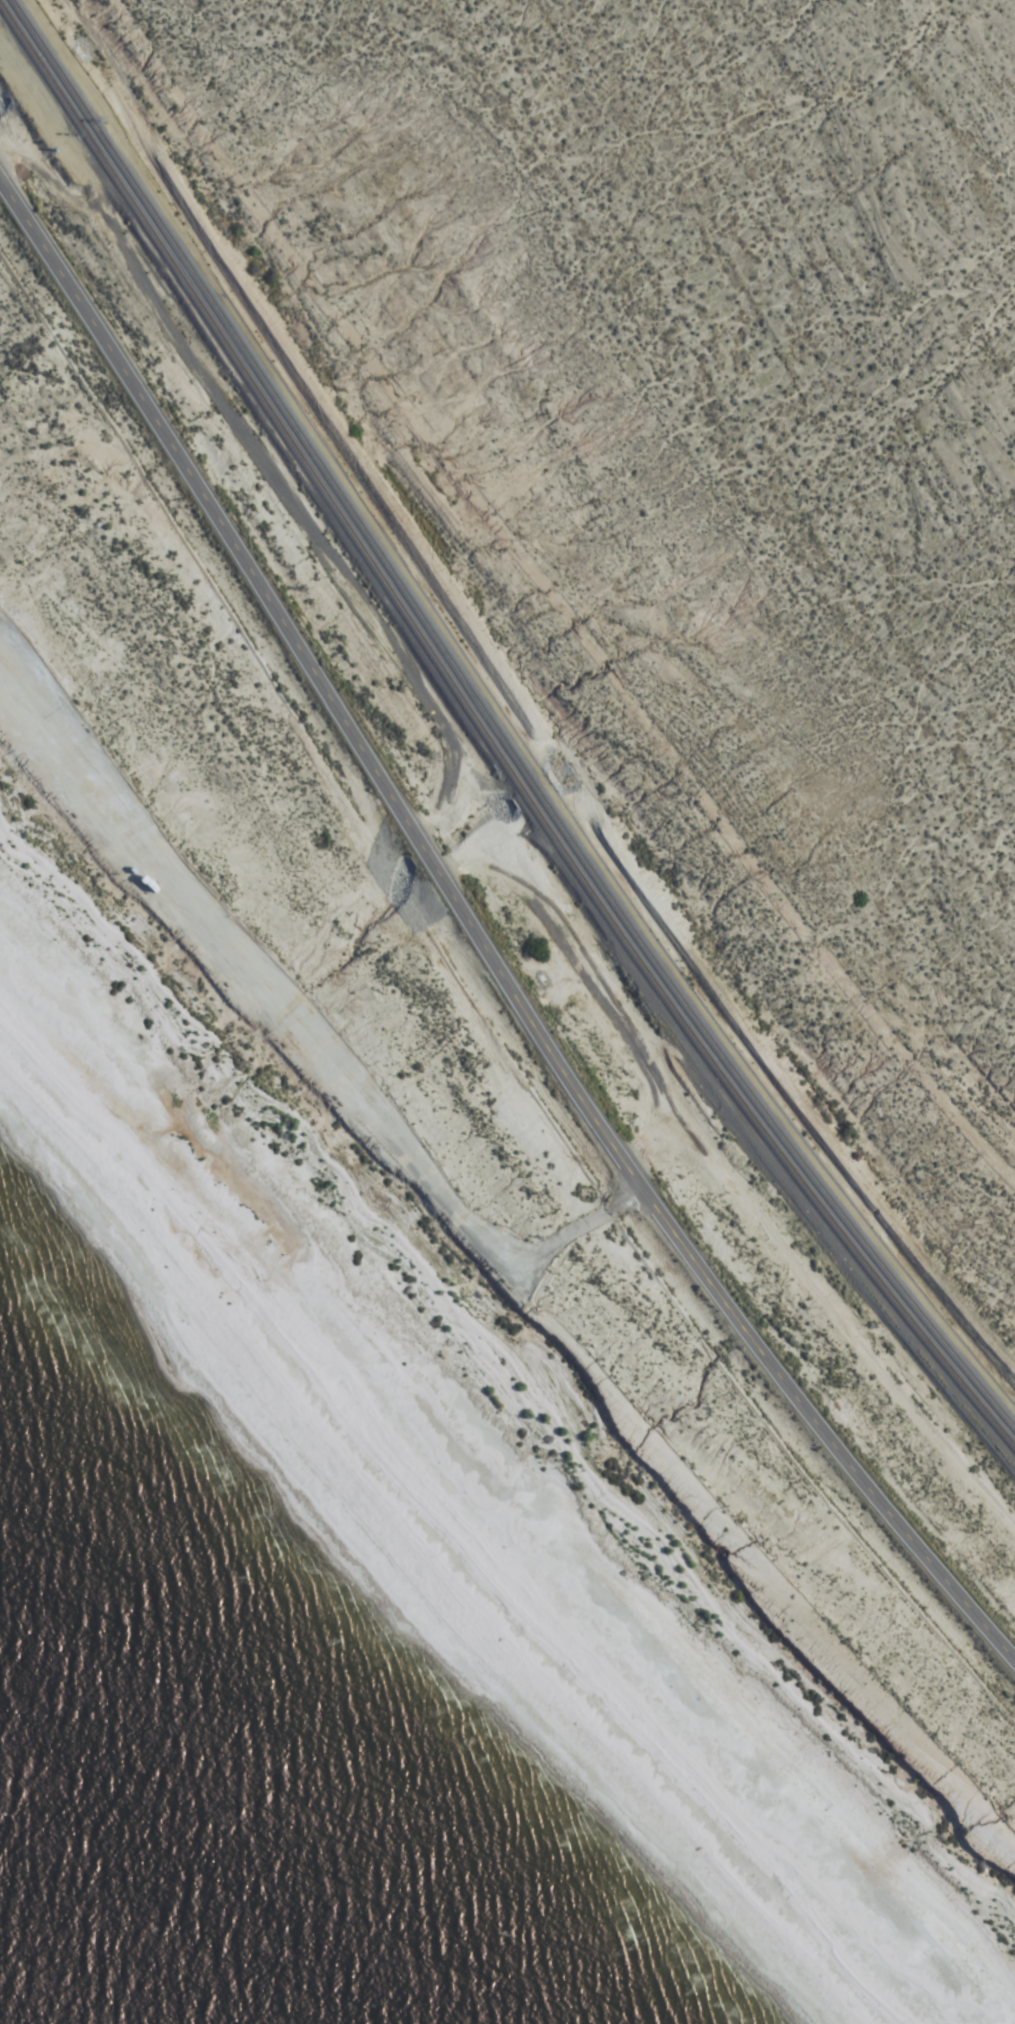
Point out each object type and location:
railway: (269, 400)
railway: (486, 747)
road: (480, 942)
road: (305, 1040)
railway: (766, 1123)
road: (766, 1591)

